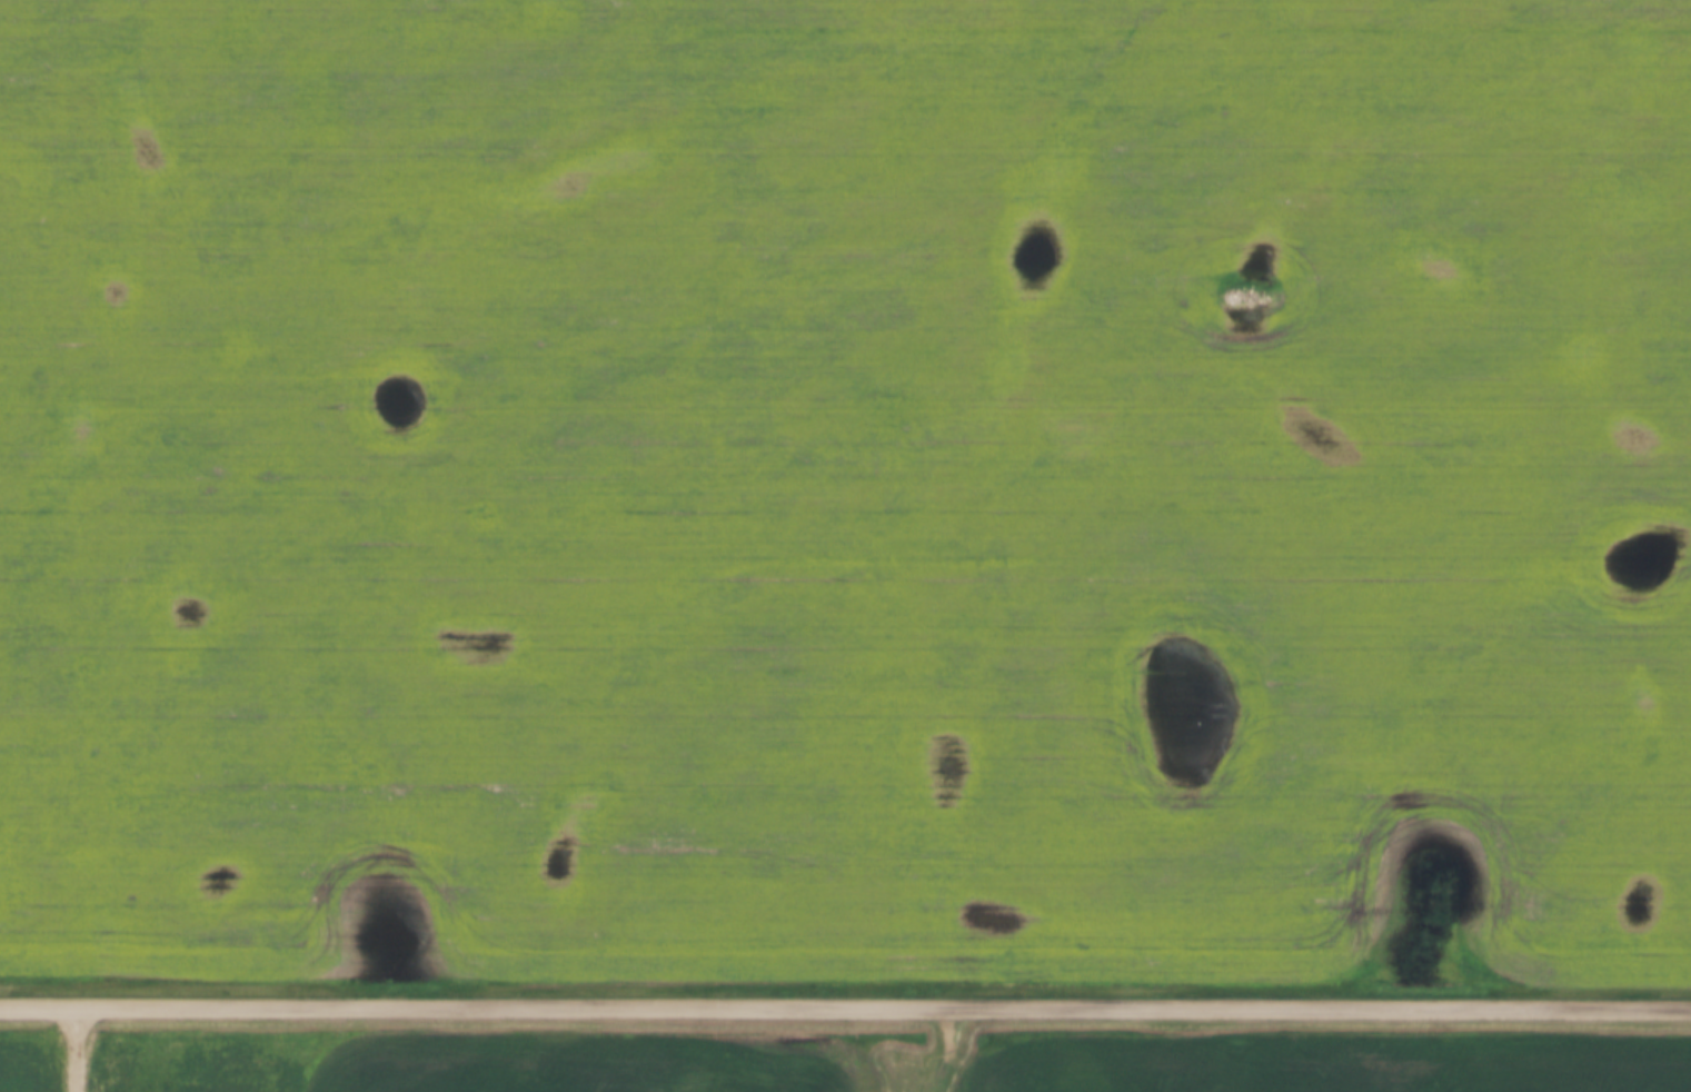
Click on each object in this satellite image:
road: (845, 1001)
road: (945, 1048)

